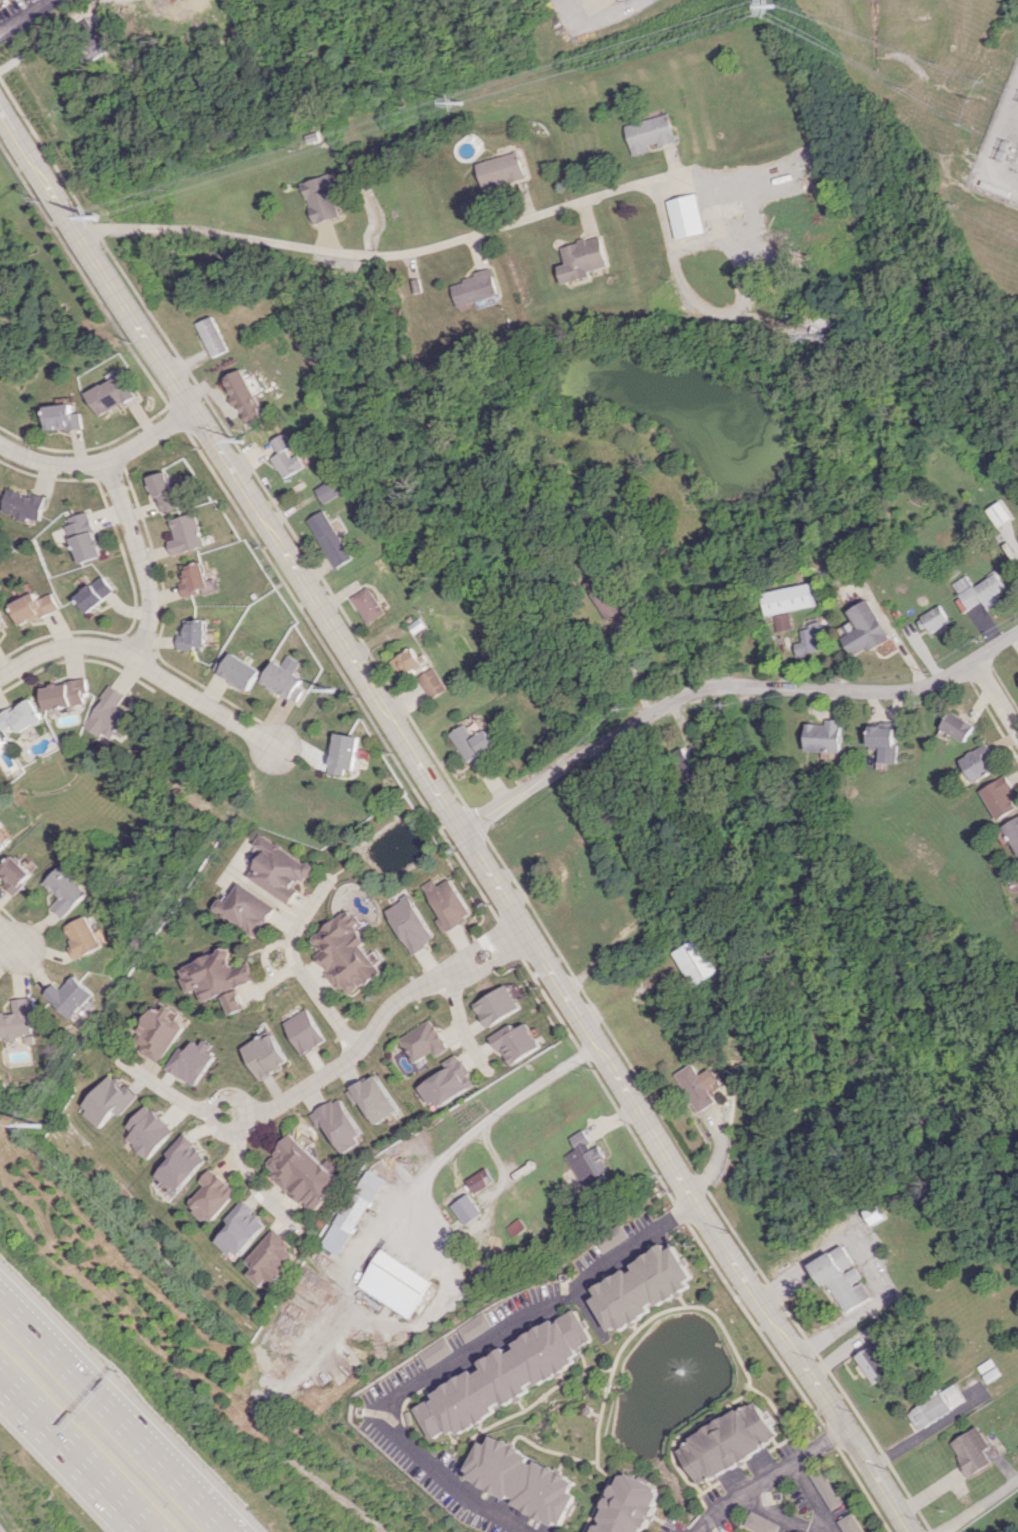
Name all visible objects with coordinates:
building: (4, 2)
power tower: (775, 10)
road: (31, 18)
road: (592, 19)
building: (649, 133)
power substation: (1001, 151)
building: (498, 171)
road: (677, 179)
building: (323, 197)
building: (687, 216)
power tower: (96, 220)
road: (367, 253)
building: (582, 259)
building: (475, 288)
building: (214, 336)
building: (114, 394)
building: (245, 397)
building: (67, 418)
building: (286, 456)
road: (101, 457)
building: (330, 490)
building: (162, 492)
building: (26, 505)
building: (999, 514)
building: (184, 534)
building: (83, 537)
building: (329, 538)
road: (137, 557)
building: (194, 580)
building: (981, 591)
building: (94, 593)
building: (607, 596)
building: (789, 599)
building: (368, 605)
building: (35, 607)
building: (935, 619)
building: (3, 622)
building: (785, 622)
building: (867, 629)
building: (193, 635)
building: (0, 638)
building: (811, 641)
road: (63, 645)
building: (407, 662)
building: (237, 671)
building: (285, 679)
building: (433, 683)
road: (731, 686)
power tower: (332, 689)
building: (67, 694)
road: (997, 695)
road: (205, 702)
building: (112, 716)
building: (22, 717)
building: (959, 726)
building: (825, 736)
building: (472, 740)
building: (885, 741)
building: (2, 743)
building: (344, 753)
building: (981, 763)
building: (1002, 797)
road: (459, 810)
building: (1013, 831)
building: (533, 844)
building: (2, 845)
building: (279, 869)
building: (18, 873)
building: (569, 885)
building: (68, 890)
building: (447, 904)
building: (245, 909)
building: (410, 924)
road: (518, 934)
building: (86, 936)
road: (12, 939)
building: (345, 953)
building: (698, 961)
road: (464, 966)
road: (298, 969)
building: (217, 978)
building: (70, 996)
building: (497, 1006)
building: (18, 1018)
road: (463, 1024)
building: (305, 1031)
building: (157, 1032)
building: (425, 1041)
building: (516, 1042)
building: (265, 1055)
building: (190, 1062)
building: (447, 1082)
building: (699, 1086)
road: (304, 1088)
building: (376, 1098)
building: (105, 1100)
building: (341, 1124)
power tower: (33, 1126)
road: (479, 1126)
building: (146, 1131)
building: (588, 1158)
building: (179, 1164)
building: (304, 1174)
road: (249, 1175)
building: (478, 1181)
building: (210, 1196)
building: (465, 1209)
building: (352, 1212)
building: (240, 1229)
building: (613, 1238)
road: (638, 1244)
building: (269, 1259)
road: (868, 1261)
building: (842, 1279)
building: (391, 1283)
building: (644, 1287)
building: (472, 1327)
building: (432, 1352)
building: (871, 1364)
building: (503, 1377)
road: (416, 1381)
building: (935, 1406)
road: (116, 1417)
road: (921, 1433)
building: (727, 1443)
road: (81, 1451)
building: (970, 1451)
road: (767, 1476)
building: (524, 1480)
building: (824, 1490)
road: (807, 1498)
building: (628, 1505)
road: (979, 1506)
road: (775, 1514)
building: (760, 1523)
building: (848, 1524)

